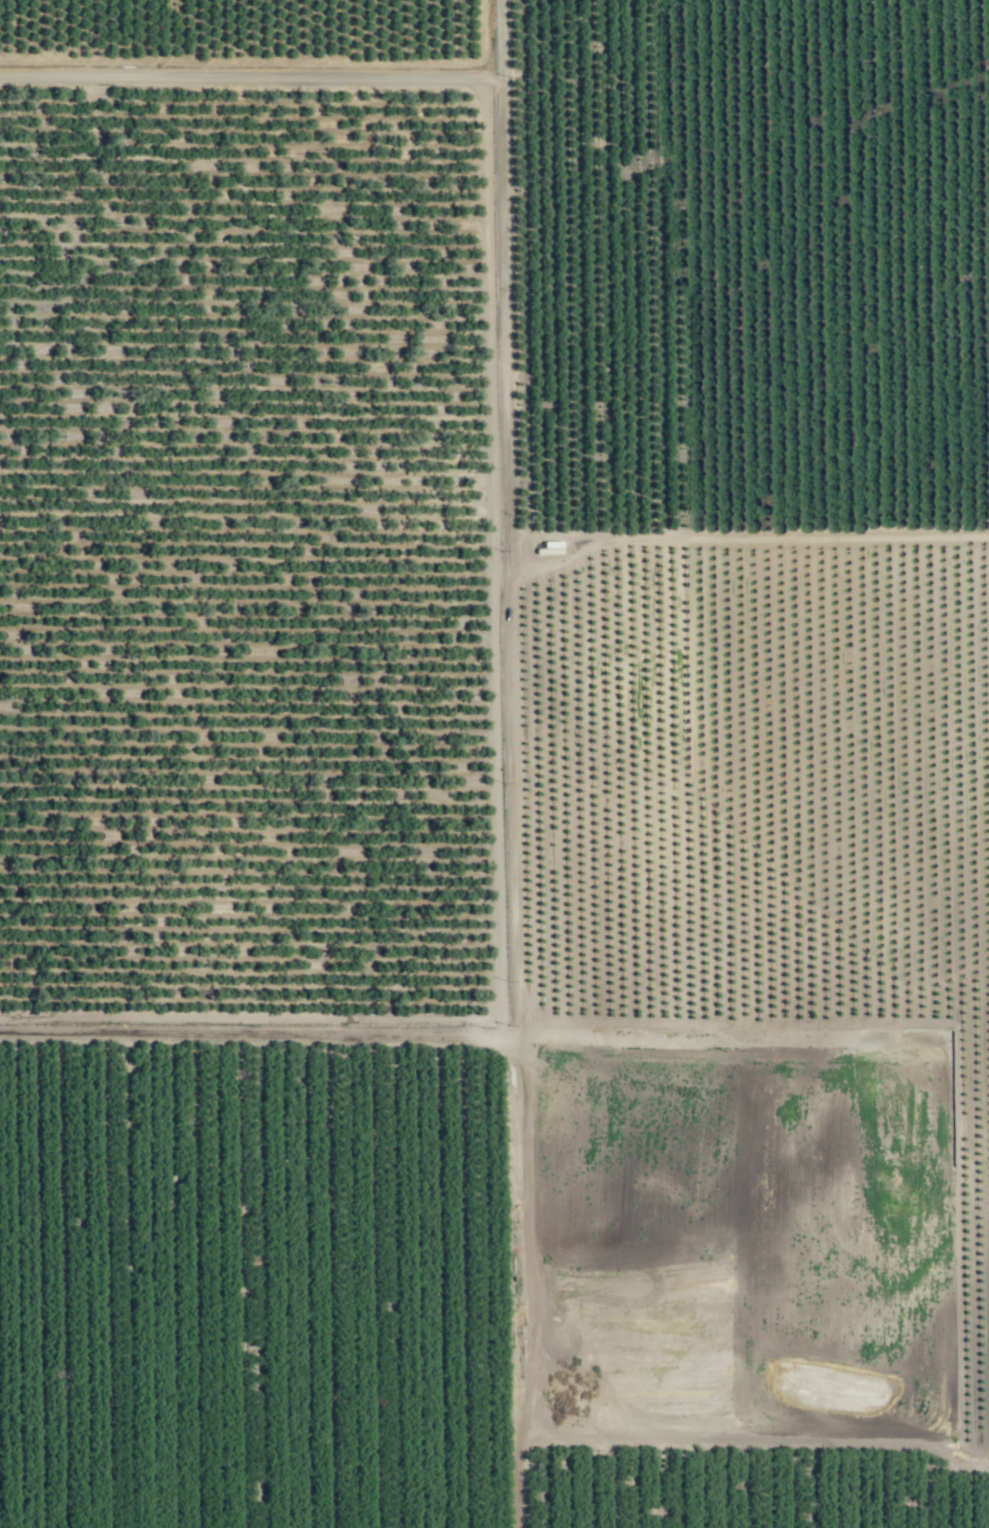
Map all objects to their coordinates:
crop: (242, 516)
road: (506, 561)
crop: (494, 764)

